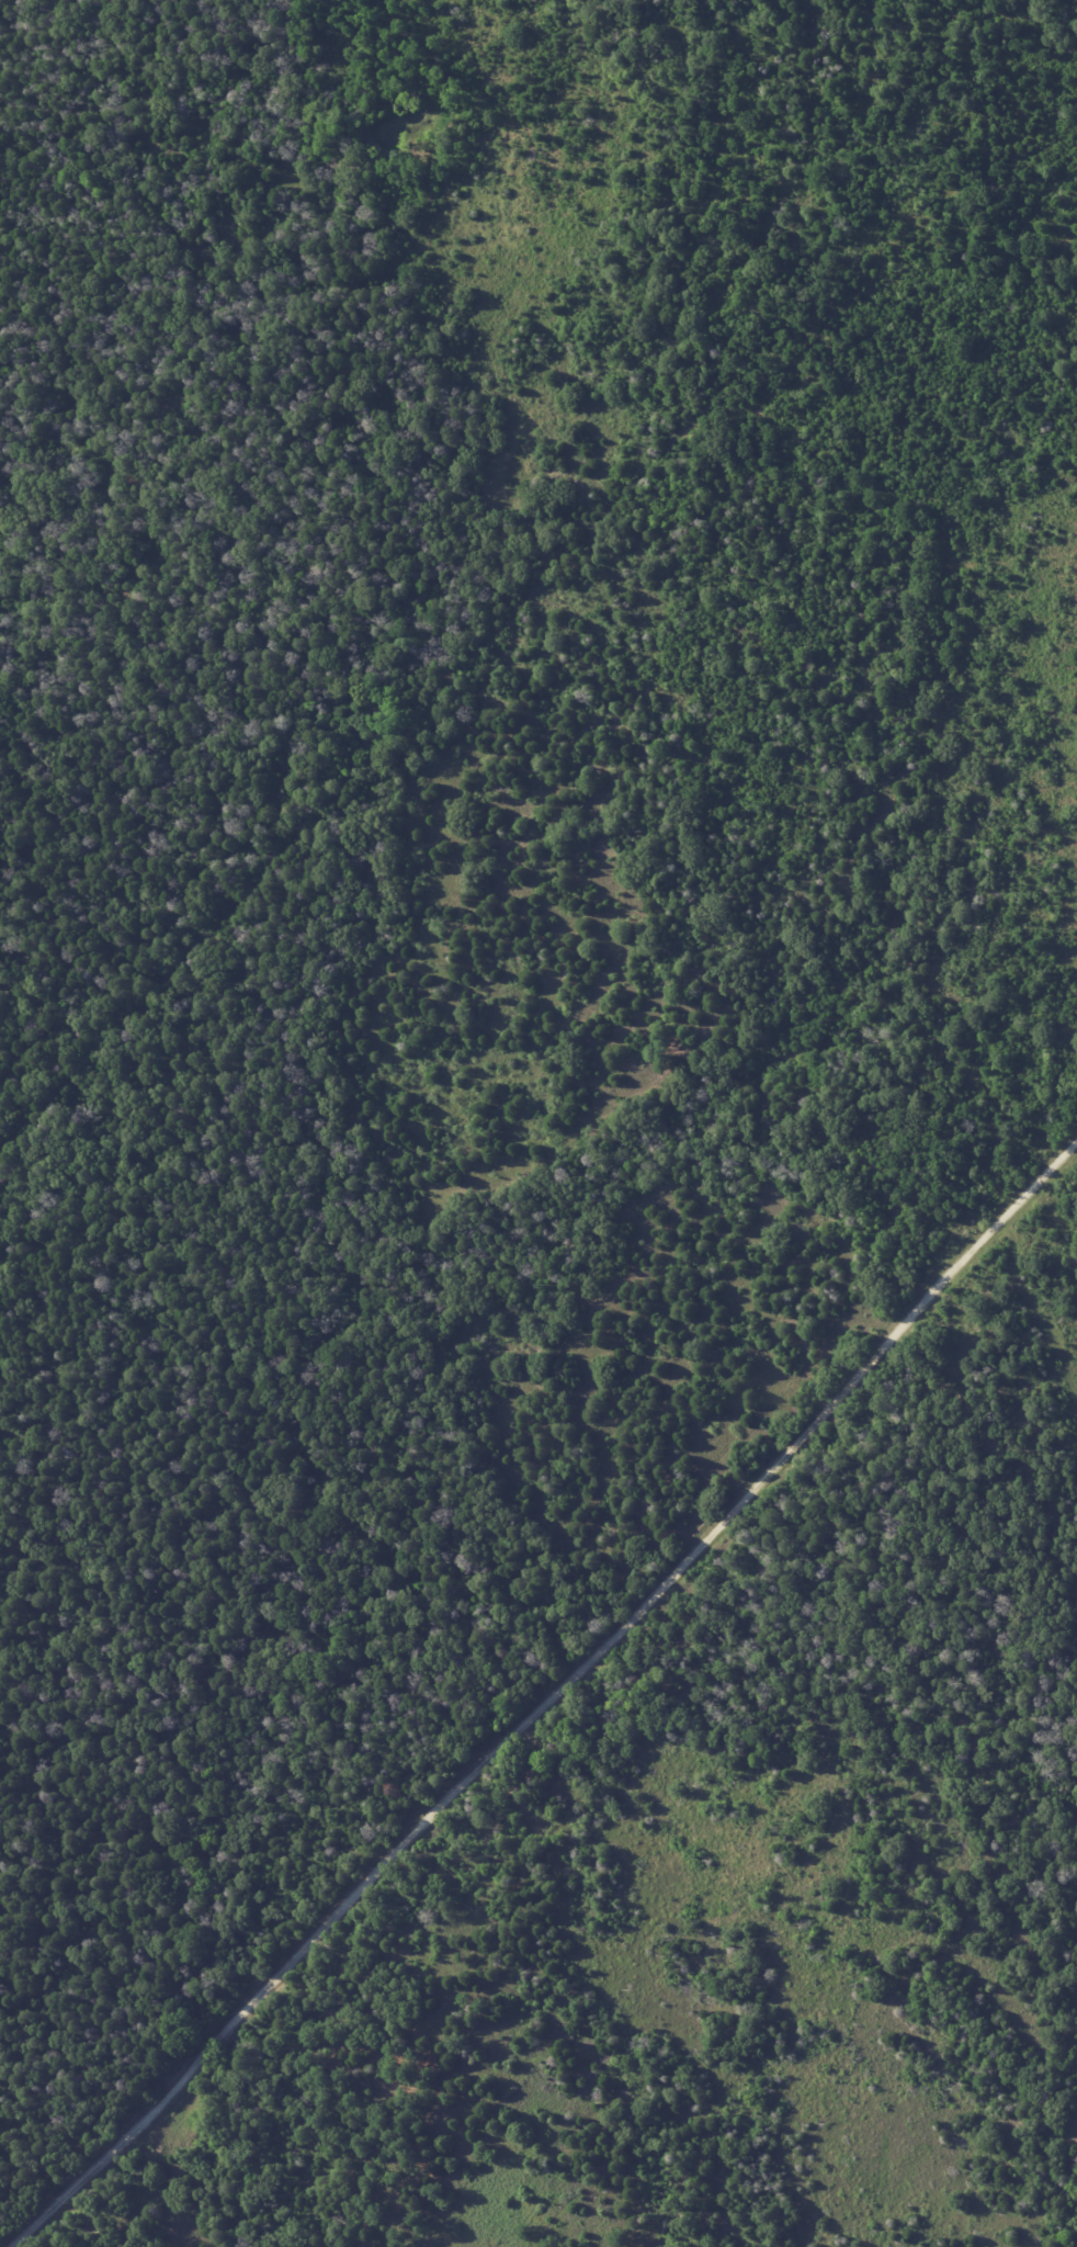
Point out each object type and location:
road: (549, 1696)

